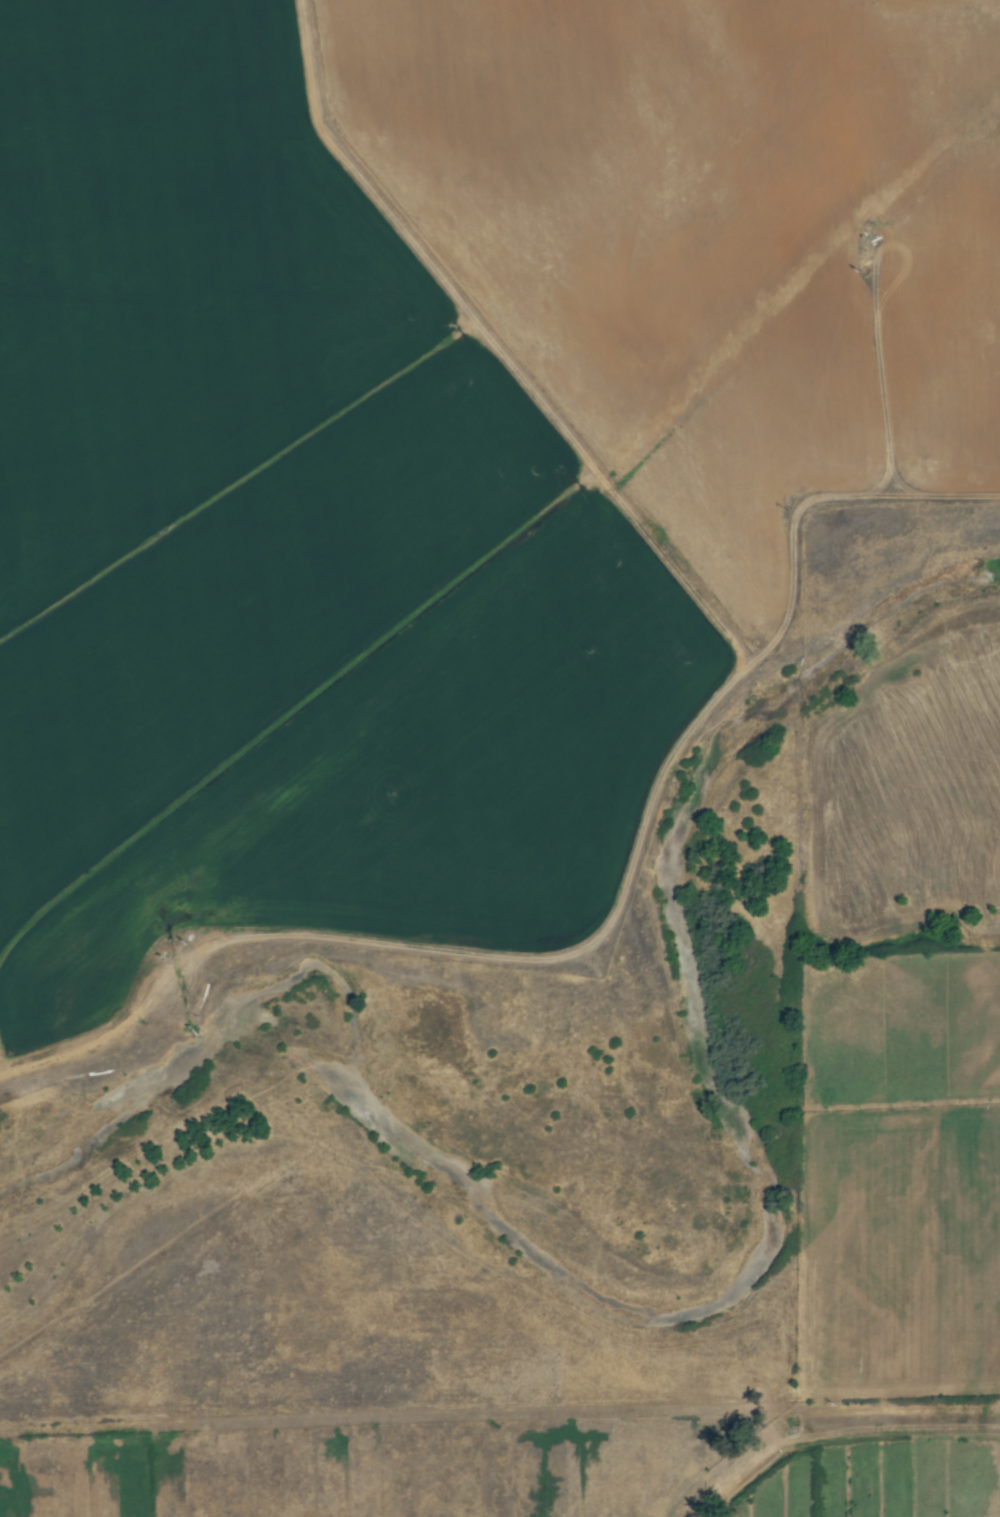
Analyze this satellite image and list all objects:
road: (953, 220)
road: (676, 727)
road: (994, 874)

